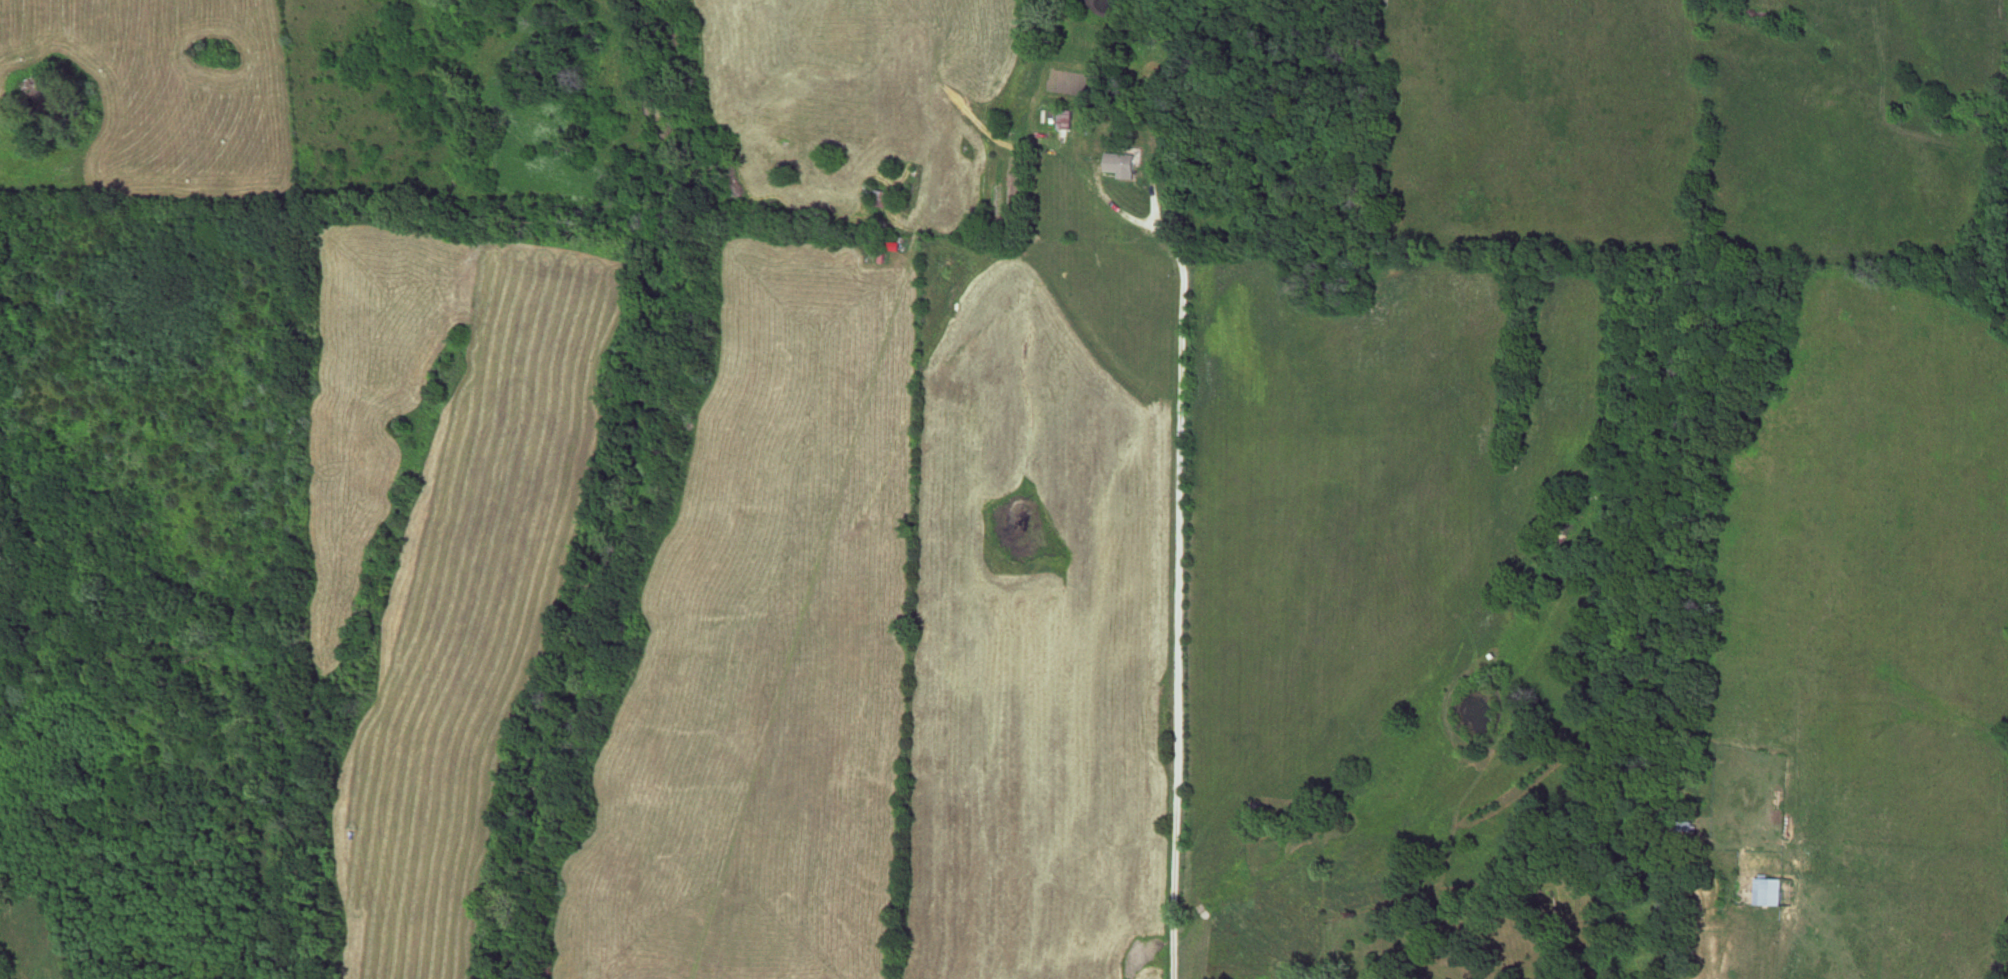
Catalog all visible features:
building: (1063, 118)
building: (1121, 162)
building: (878, 195)
road: (1187, 594)
building: (1684, 833)
building: (1766, 892)

